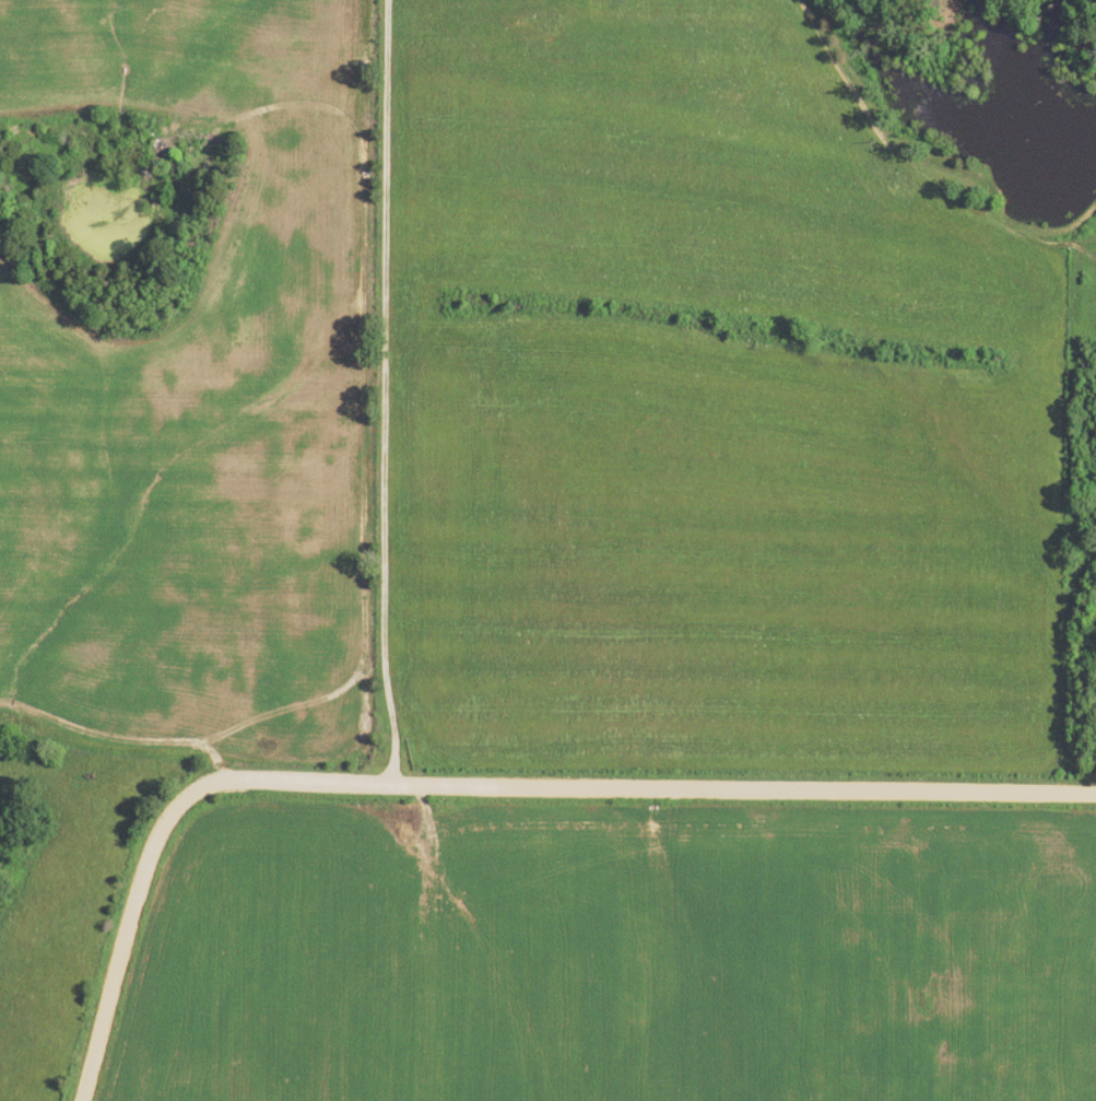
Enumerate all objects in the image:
road: (374, 391)
road: (116, 749)
road: (471, 784)

